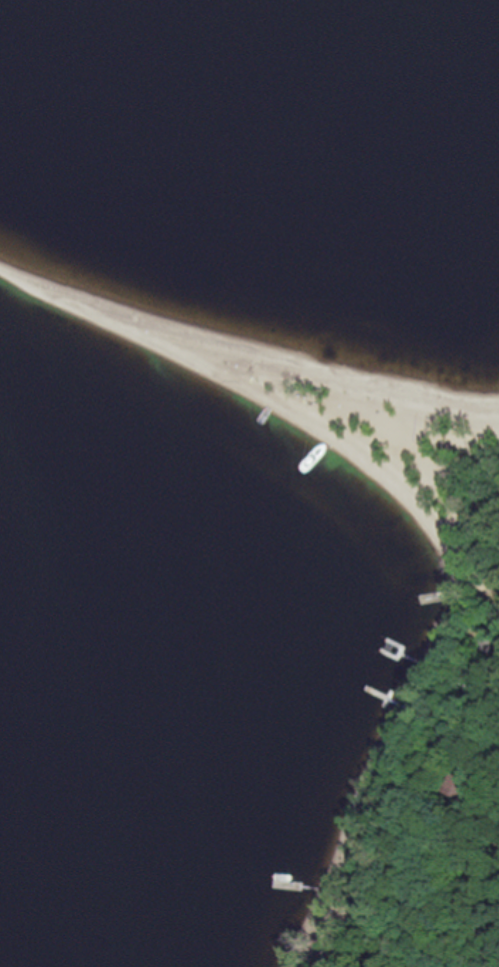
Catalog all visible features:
river: (18, 14)

